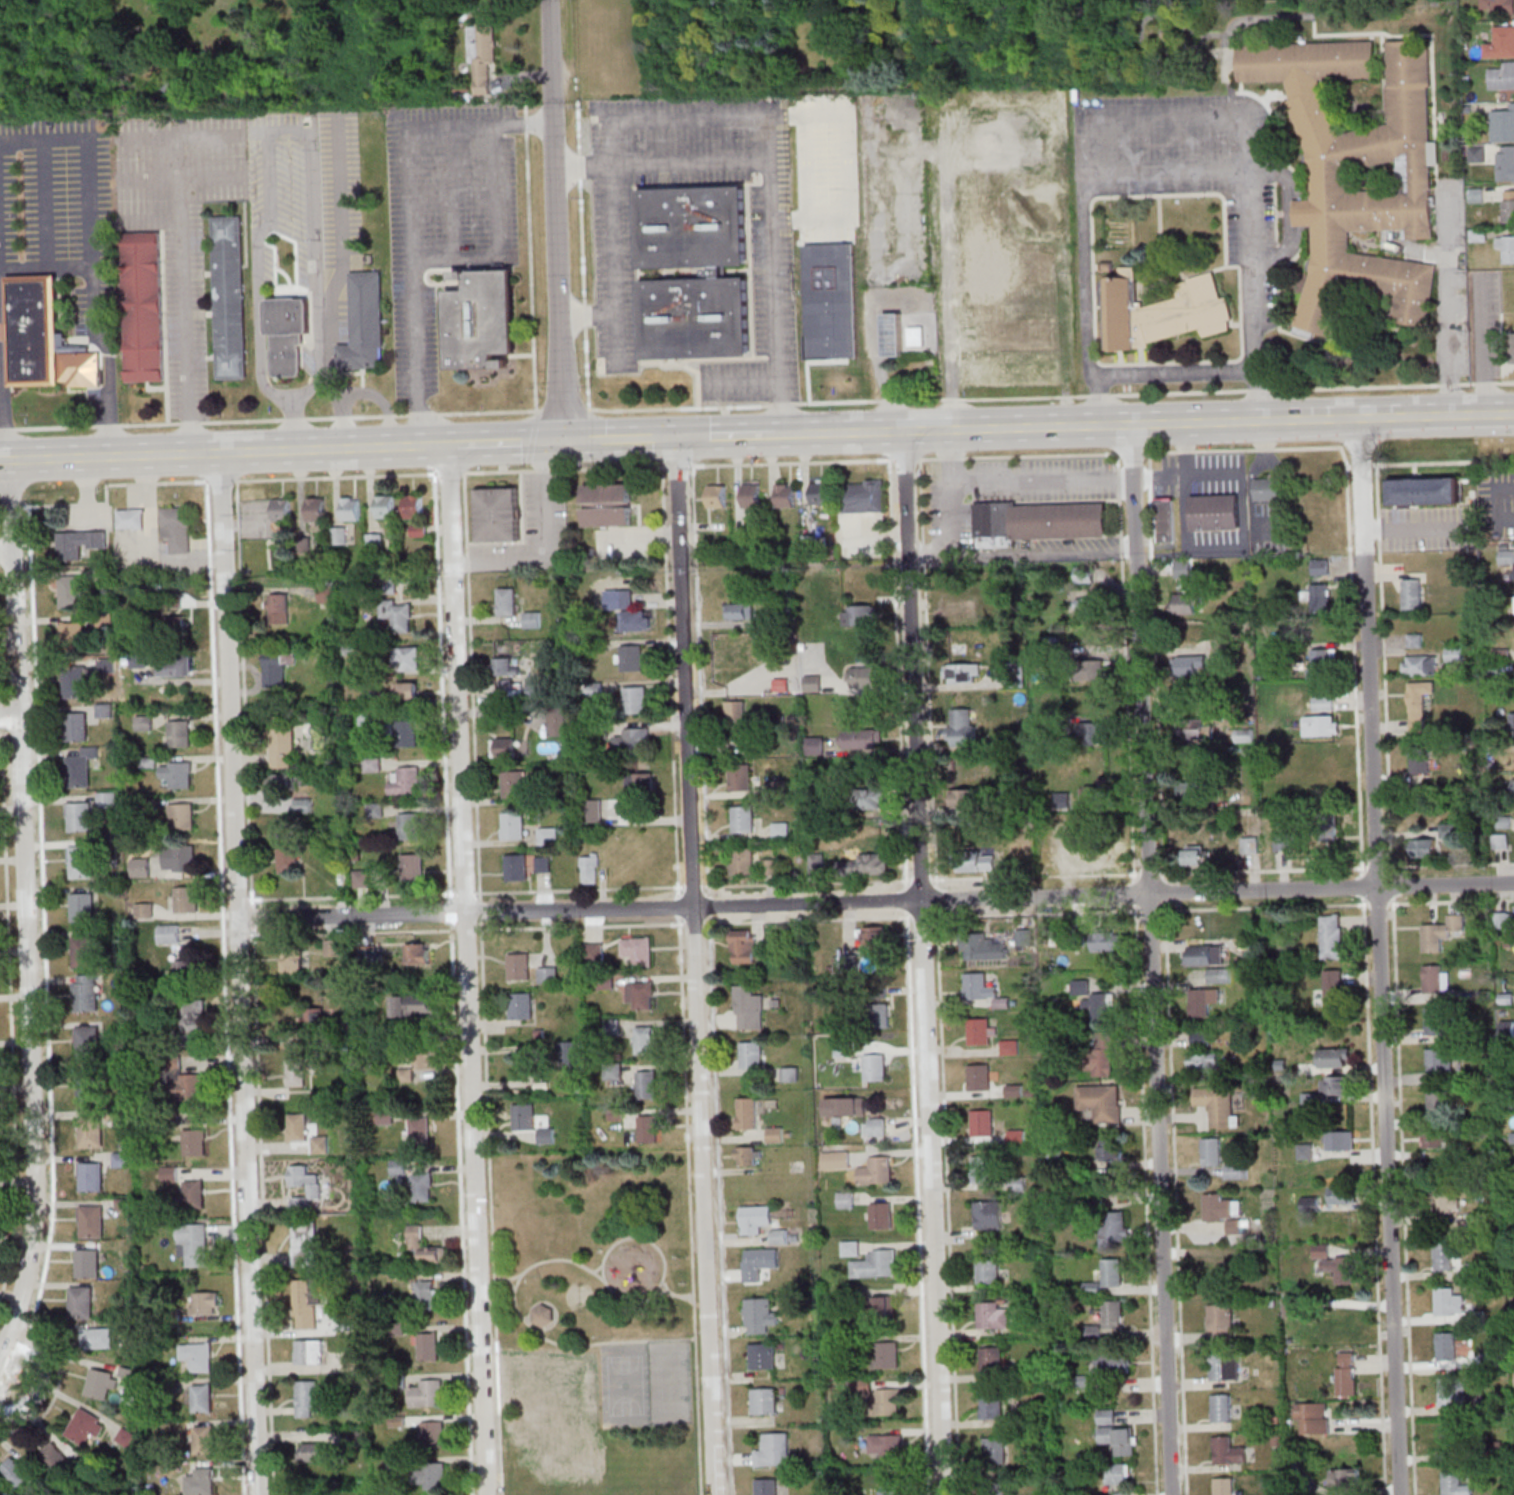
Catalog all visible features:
building: (1497, 6)
building: (1501, 42)
building: (481, 56)
building: (1502, 76)
building: (1503, 125)
road: (578, 126)
road: (285, 129)
road: (212, 135)
road: (609, 141)
building: (1477, 153)
building: (1505, 162)
road: (664, 163)
road: (579, 165)
road: (825, 165)
road: (1165, 173)
road: (213, 176)
road: (146, 178)
building: (1329, 179)
road: (1247, 187)
road: (453, 194)
road: (44, 203)
building: (1509, 206)
road: (413, 215)
road: (635, 215)
road: (560, 220)
building: (693, 225)
road: (498, 233)
road: (582, 241)
building: (1506, 246)
road: (94, 255)
road: (530, 260)
road: (949, 260)
road: (182, 262)
road: (47, 266)
road: (750, 270)
building: (1000, 281)
road: (334, 282)
building: (230, 296)
road: (775, 297)
building: (831, 299)
road: (1448, 305)
building: (144, 306)
building: (1162, 309)
road: (591, 313)
road: (585, 314)
building: (288, 315)
building: (696, 317)
building: (482, 318)
building: (364, 321)
road: (164, 326)
road: (1087, 330)
building: (893, 334)
building: (916, 335)
building: (43, 336)
building: (288, 338)
building: (1513, 345)
road: (1479, 346)
road: (867, 349)
road: (728, 357)
building: (287, 359)
road: (687, 366)
road: (587, 370)
road: (737, 381)
road: (1050, 396)
road: (381, 400)
road: (1101, 401)
road: (5, 406)
road: (563, 409)
road: (270, 419)
road: (294, 423)
road: (1158, 425)
road: (792, 434)
road: (727, 436)
traffic signals: (676, 438)
road: (624, 439)
road: (530, 441)
road: (551, 441)
traffic signals: (572, 441)
road: (490, 443)
road: (436, 446)
road: (210, 455)
road: (1150, 460)
road: (763, 462)
road: (1150, 485)
building: (1268, 488)
building: (821, 491)
building: (1424, 491)
building: (786, 494)
building: (717, 495)
building: (752, 495)
building: (864, 496)
road: (1512, 502)
building: (608, 504)
building: (414, 505)
road: (453, 505)
road: (10, 506)
building: (386, 506)
road: (1, 507)
building: (350, 508)
building: (282, 509)
building: (316, 509)
building: (1217, 513)
building: (498, 514)
building: (130, 518)
building: (1167, 519)
building: (1038, 522)
road: (1409, 525)
building: (177, 528)
building: (339, 535)
building: (374, 539)
building: (79, 543)
road: (545, 543)
building: (1320, 566)
building: (1182, 568)
building: (1084, 574)
building: (71, 591)
building: (326, 592)
building: (1412, 593)
building: (1318, 594)
building: (626, 598)
building: (506, 600)
building: (1186, 601)
building: (1086, 607)
building: (277, 608)
building: (740, 611)
building: (954, 611)
building: (397, 614)
building: (860, 615)
building: (532, 619)
building: (636, 620)
building: (172, 627)
building: (73, 634)
building: (1454, 653)
building: (631, 657)
building: (407, 658)
building: (139, 659)
building: (279, 660)
building: (1321, 663)
building: (1419, 663)
building: (767, 664)
building: (177, 665)
building: (1191, 665)
building: (504, 666)
building: (1096, 668)
building: (963, 672)
building: (863, 675)
building: (74, 681)
building: (773, 683)
building: (812, 683)
road: (471, 684)
road: (897, 684)
road: (442, 686)
building: (538, 688)
building: (408, 690)
road: (670, 690)
road: (700, 690)
building: (635, 699)
building: (1323, 702)
building: (1418, 704)
building: (736, 713)
road: (8, 718)
building: (557, 721)
building: (1511, 721)
building: (1321, 725)
building: (75, 726)
building: (962, 727)
building: (1185, 730)
building: (406, 732)
building: (1095, 732)
building: (178, 733)
building: (861, 738)
building: (633, 740)
building: (281, 744)
building: (815, 745)
building: (504, 747)
building: (1321, 755)
building: (1419, 759)
building: (371, 763)
building: (79, 767)
building: (176, 773)
building: (740, 776)
building: (405, 780)
building: (281, 781)
building: (515, 786)
building: (1513, 786)
building: (1191, 790)
building: (636, 791)
building: (1095, 791)
building: (868, 797)
building: (964, 798)
building: (107, 799)
building: (1061, 800)
building: (303, 805)
building: (592, 809)
building: (180, 815)
building: (79, 816)
building: (742, 818)
building: (409, 825)
building: (513, 825)
building: (1330, 829)
building: (1501, 840)
building: (1283, 841)
building: (1424, 847)
building: (178, 857)
building: (287, 857)
building: (1097, 859)
building: (742, 860)
building: (975, 860)
building: (81, 861)
building: (543, 863)
building: (865, 864)
building: (816, 865)
building: (139, 866)
building: (412, 866)
building: (516, 867)
building: (589, 867)
building: (362, 878)
building: (185, 899)
road: (1450, 901)
road: (876, 902)
building: (81, 907)
road: (24, 910)
building: (143, 910)
road: (480, 910)
road: (450, 911)
road: (807, 919)
road: (693, 923)
road: (580, 926)
building: (1440, 932)
building: (169, 933)
building: (874, 934)
building: (1332, 936)
building: (1024, 937)
building: (1105, 941)
building: (744, 946)
building: (982, 947)
building: (638, 949)
building: (83, 951)
building: (594, 951)
building: (417, 953)
building: (1204, 954)
road: (1383, 957)
road: (1153, 960)
building: (293, 962)
building: (848, 962)
road: (925, 963)
building: (518, 966)
road: (695, 966)
building: (184, 968)
road: (1137, 973)
road: (241, 974)
building: (548, 974)
building: (1218, 975)
road: (938, 976)
building: (1436, 978)
building: (978, 986)
road: (45, 988)
road: (225, 988)
building: (1332, 991)
building: (84, 992)
building: (640, 994)
road: (1167, 998)
building: (1203, 1000)
building: (1100, 1004)
building: (414, 1005)
building: (521, 1005)
road: (10, 1006)
building: (749, 1007)
building: (880, 1014)
building: (194, 1015)
building: (313, 1018)
building: (1436, 1020)
road: (473, 1029)
building: (979, 1031)
building: (1199, 1037)
building: (645, 1040)
building: (86, 1041)
building: (570, 1052)
building: (1103, 1053)
building: (751, 1054)
building: (1334, 1057)
building: (428, 1058)
building: (1438, 1060)
building: (1202, 1062)
building: (875, 1067)
building: (296, 1071)
building: (979, 1076)
building: (647, 1084)
building: (1335, 1085)
building: (89, 1086)
building: (185, 1086)
building: (1100, 1101)
building: (1437, 1104)
building: (845, 1105)
building: (1217, 1105)
building: (747, 1112)
building: (524, 1116)
building: (982, 1122)
building: (298, 1126)
building: (875, 1126)
building: (648, 1128)
building: (420, 1130)
building: (91, 1131)
building: (775, 1134)
building: (546, 1135)
building: (1433, 1138)
building: (1339, 1140)
building: (195, 1141)
building: (320, 1142)
building: (1111, 1150)
building: (1212, 1151)
building: (1305, 1151)
building: (746, 1155)
building: (121, 1159)
building: (836, 1159)
building: (981, 1168)
building: (876, 1170)
building: (1236, 1171)
building: (170, 1174)
building: (91, 1176)
building: (305, 1185)
building: (422, 1186)
building: (194, 1193)
building: (1344, 1194)
road: (1403, 1194)
building: (846, 1199)
building: (1447, 1200)
road: (918, 1202)
road: (689, 1205)
road: (719, 1205)
road: (461, 1208)
road: (491, 1208)
building: (1223, 1210)
building: (988, 1214)
building: (881, 1215)
building: (755, 1218)
building: (91, 1221)
building: (1112, 1229)
building: (193, 1243)
building: (304, 1244)
building: (425, 1245)
building: (851, 1248)
building: (1443, 1255)
building: (87, 1263)
building: (759, 1263)
building: (875, 1264)
building: (1336, 1265)
road: (599, 1269)
building: (988, 1270)
building: (1111, 1272)
building: (1260, 1276)
road: (518, 1281)
building: (426, 1293)
road: (676, 1294)
building: (81, 1301)
building: (204, 1302)
building: (1449, 1302)
building: (306, 1303)
road: (635, 1303)
building: (885, 1305)
building: (543, 1313)
building: (1113, 1313)
building: (760, 1314)
building: (993, 1314)
building: (1220, 1320)
park: (594, 1323)
building: (100, 1337)
building: (427, 1346)
building: (1446, 1346)
road: (580, 1349)
building: (309, 1351)
building: (887, 1354)
building: (763, 1355)
building: (199, 1356)
building: (354, 1360)
building: (993, 1360)
building: (1113, 1362)
building: (1224, 1367)
building: (1346, 1372)
road: (40, 1377)
building: (101, 1382)
park: (670, 1384)
park: (626, 1386)
building: (1455, 1391)
building: (427, 1392)
building: (202, 1398)
building: (307, 1398)
building: (765, 1400)
building: (887, 1401)
building: (991, 1406)
building: (1222, 1407)
building: (1312, 1417)
building: (86, 1425)
building: (433, 1433)
building: (1116, 1434)
building: (204, 1439)
building: (1452, 1439)
building: (887, 1446)
building: (774, 1450)
building: (1228, 1450)
building: (995, 1451)
building: (313, 1452)
building: (55, 1457)
park: (570, 1471)
building: (1118, 1473)
building: (17, 1475)
building: (431, 1475)
building: (1345, 1478)
building: (201, 1482)
building: (1456, 1484)
building: (1224, 1485)
building: (767, 1486)
building: (996, 1489)
building: (892, 1492)
building: (1123, 1493)
building: (0, 1494)

